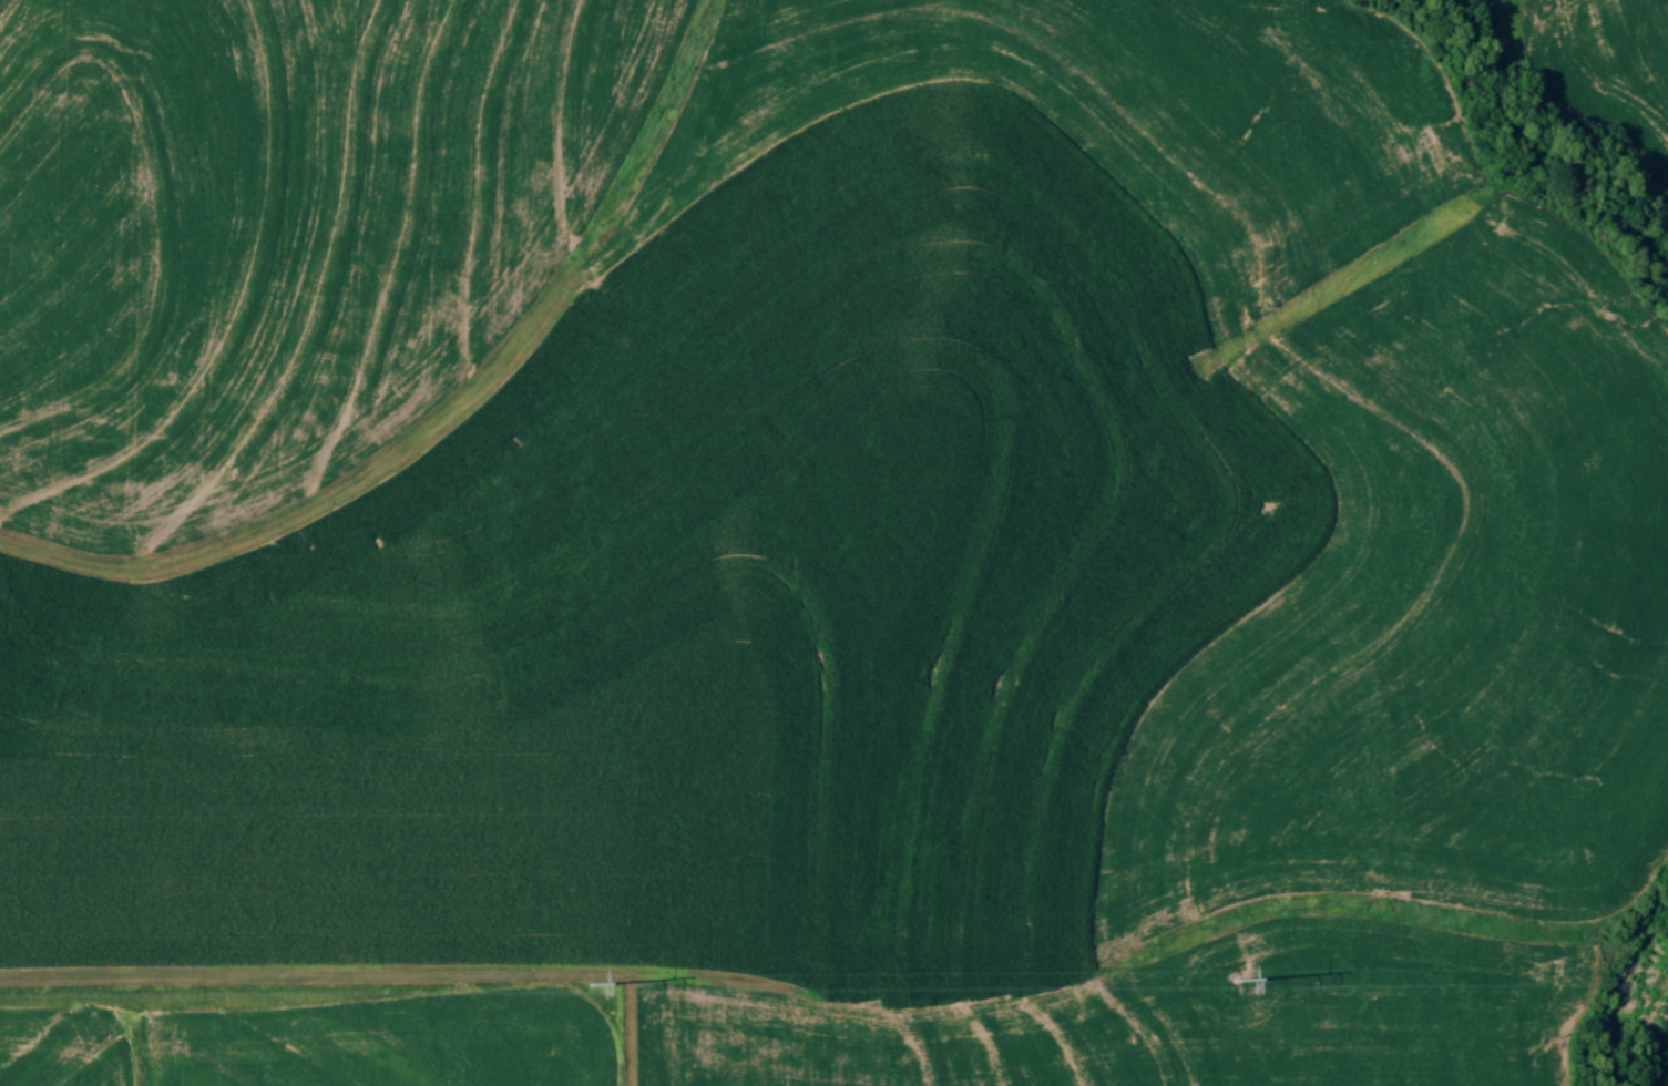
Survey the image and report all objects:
power tower: (1236, 980)
power tower: (589, 985)

